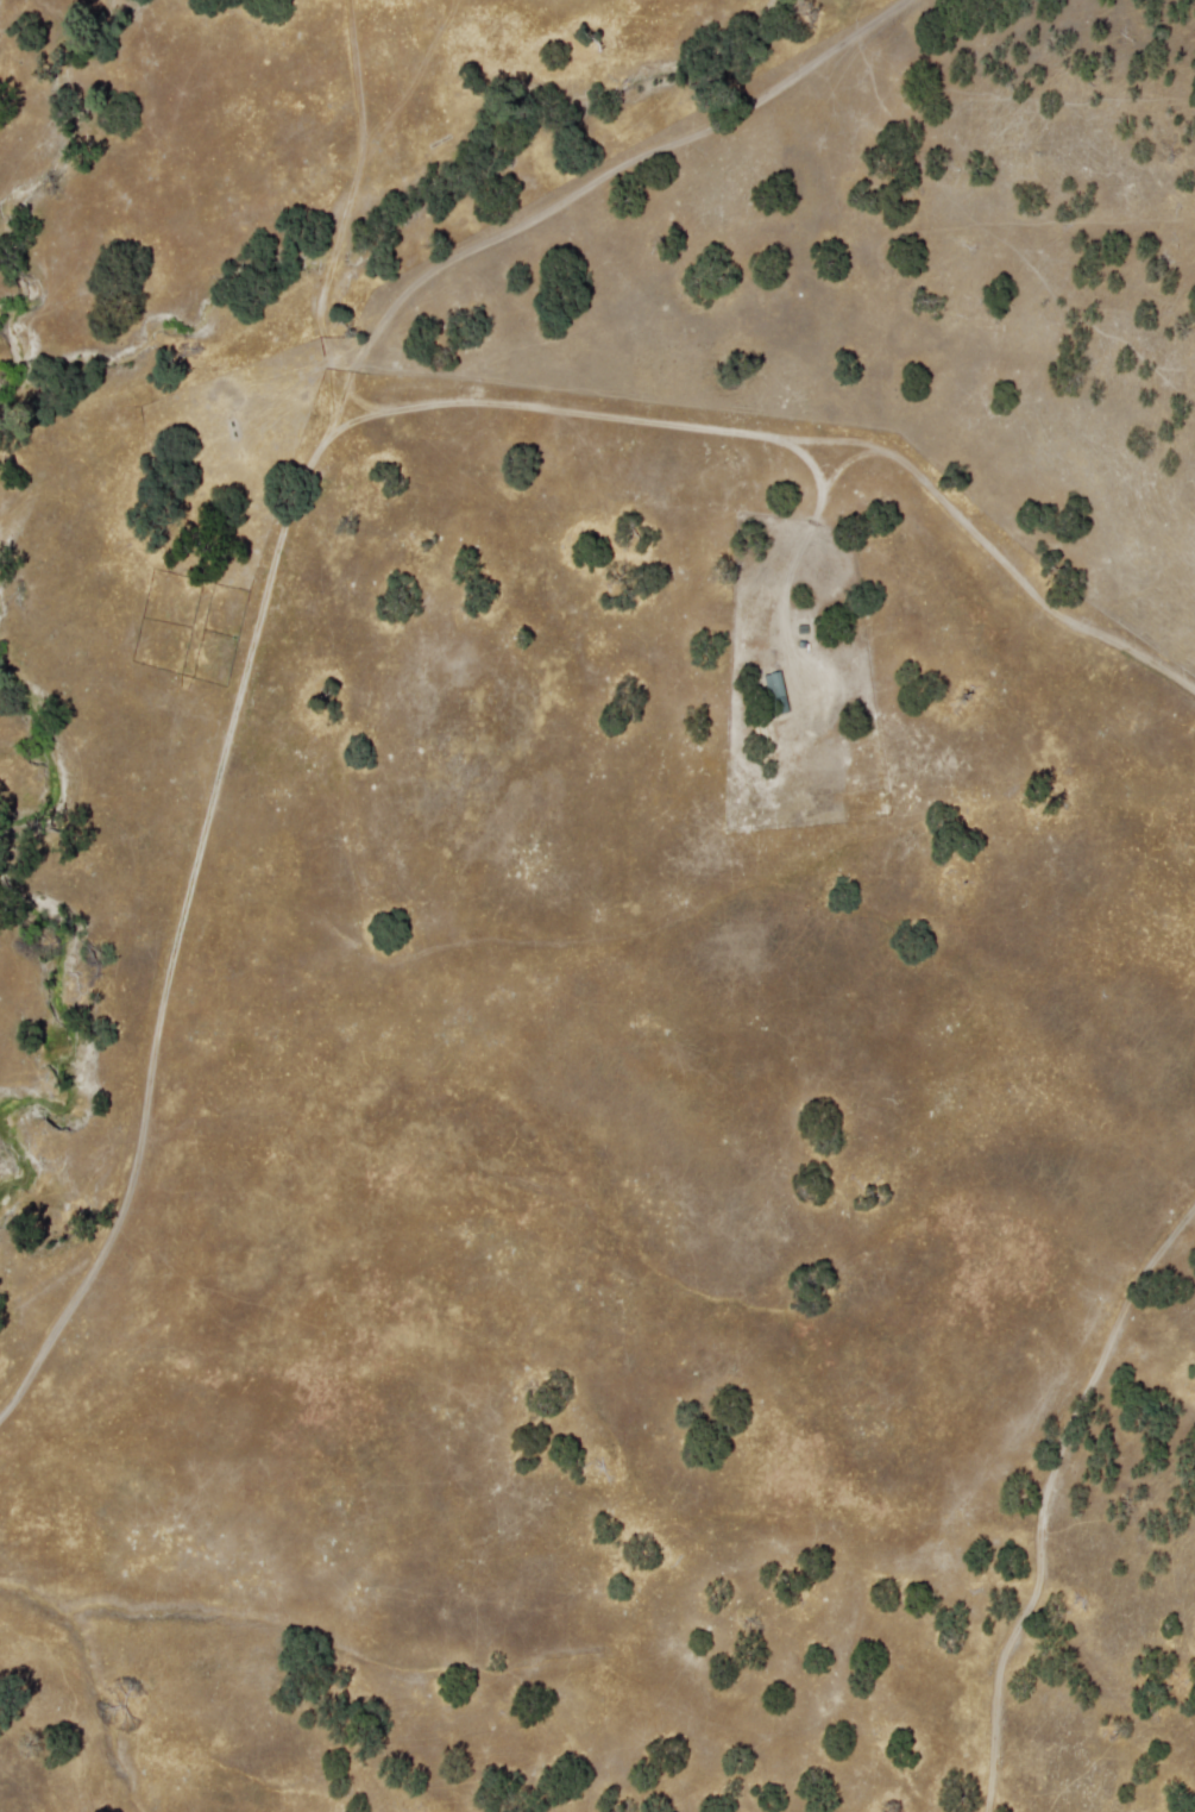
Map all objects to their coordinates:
road: (811, 438)
road: (276, 535)
building: (774, 694)
road: (1045, 1491)

